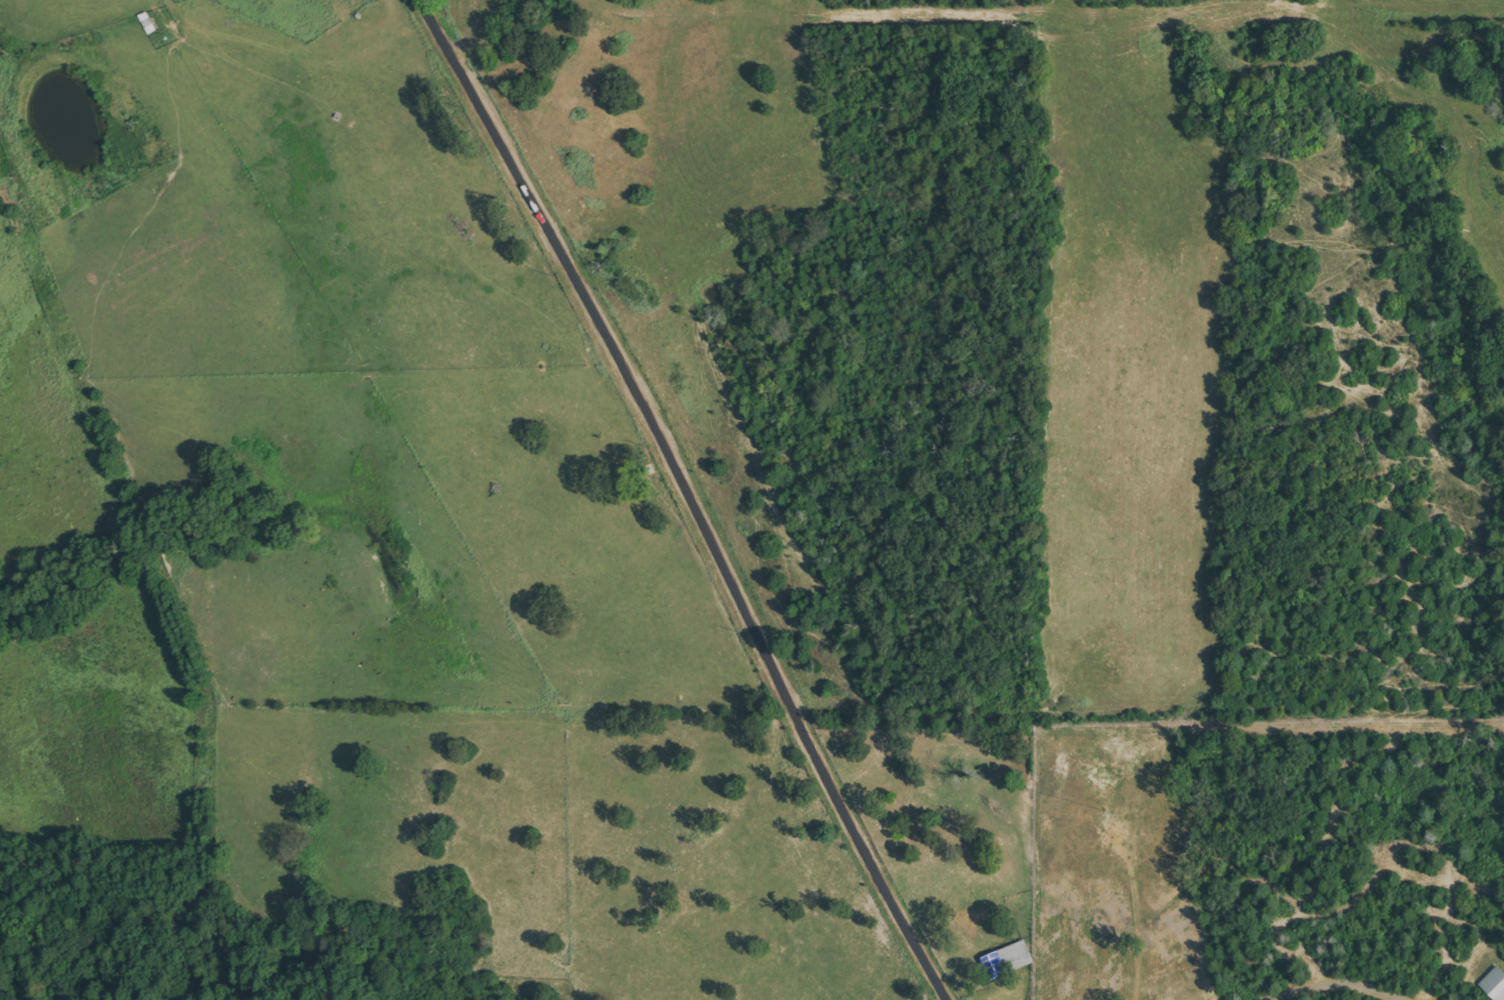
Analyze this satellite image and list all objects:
road: (692, 496)
building: (1008, 960)
building: (1494, 983)

